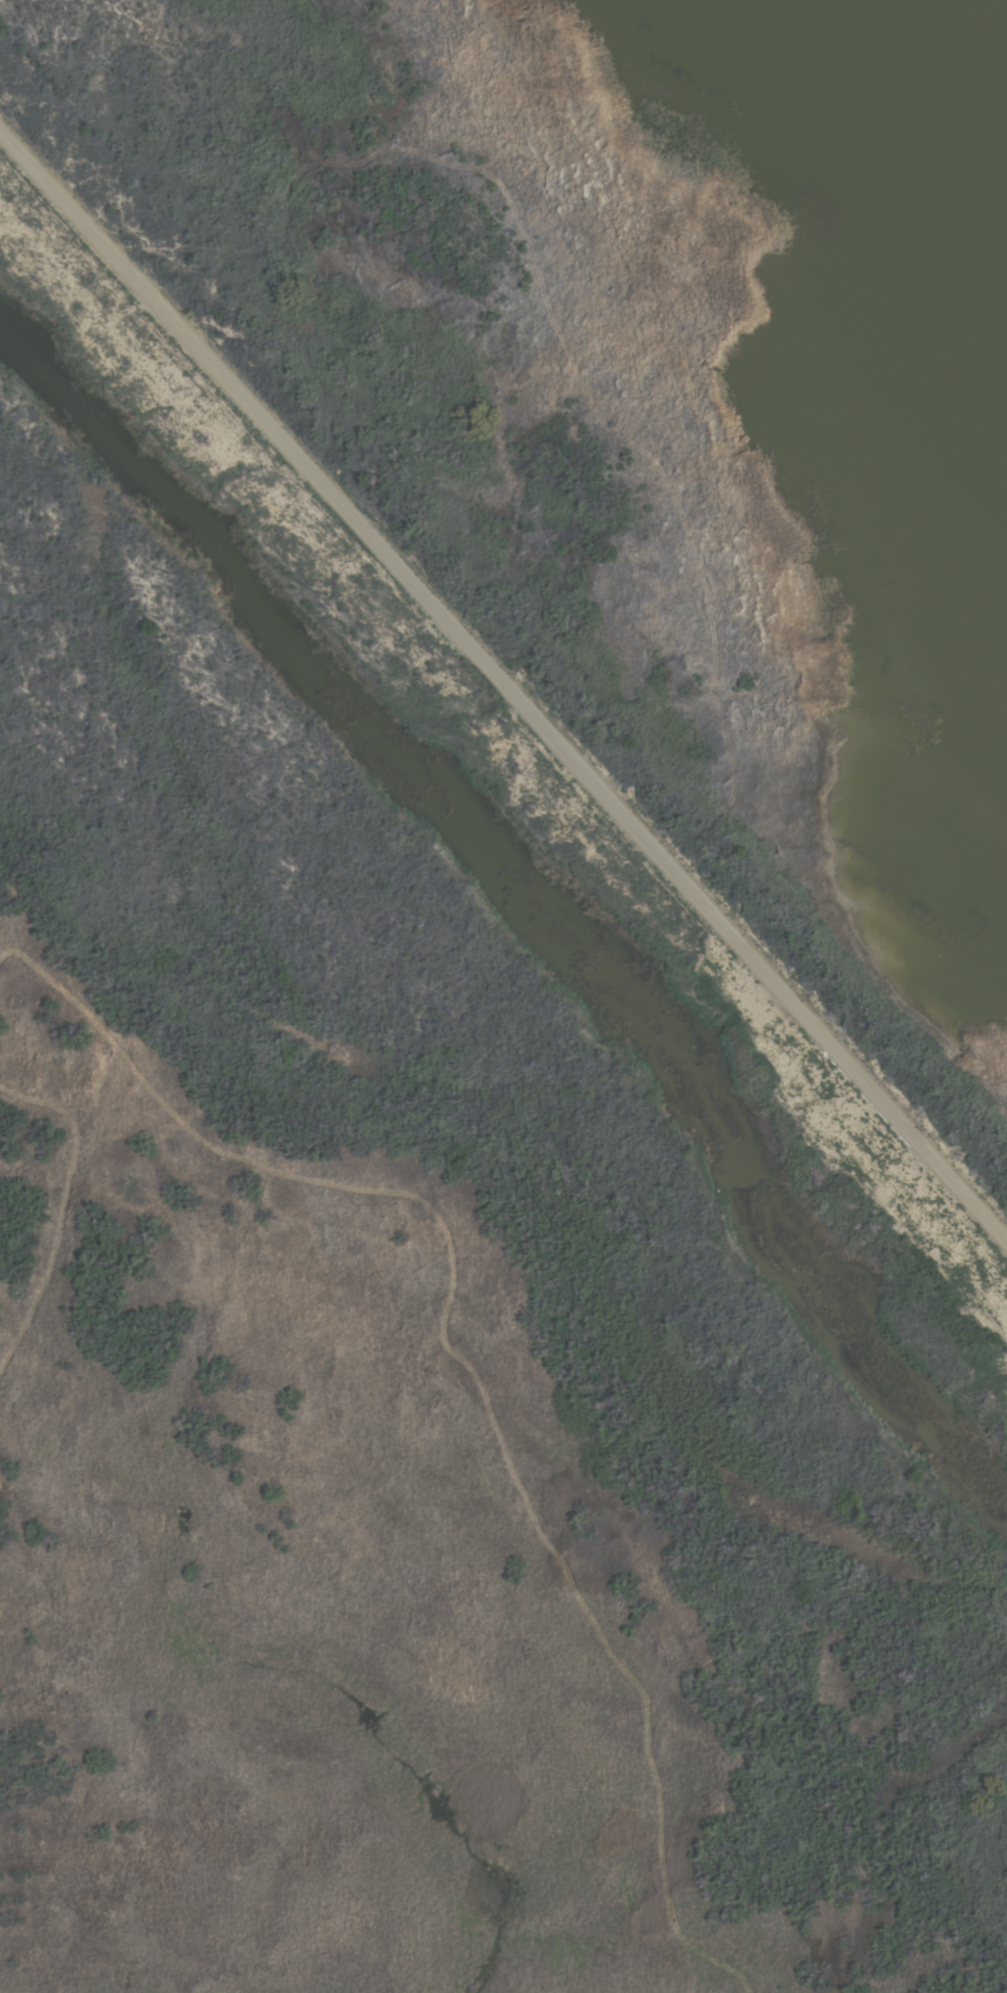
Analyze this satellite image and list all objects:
road: (503, 685)

